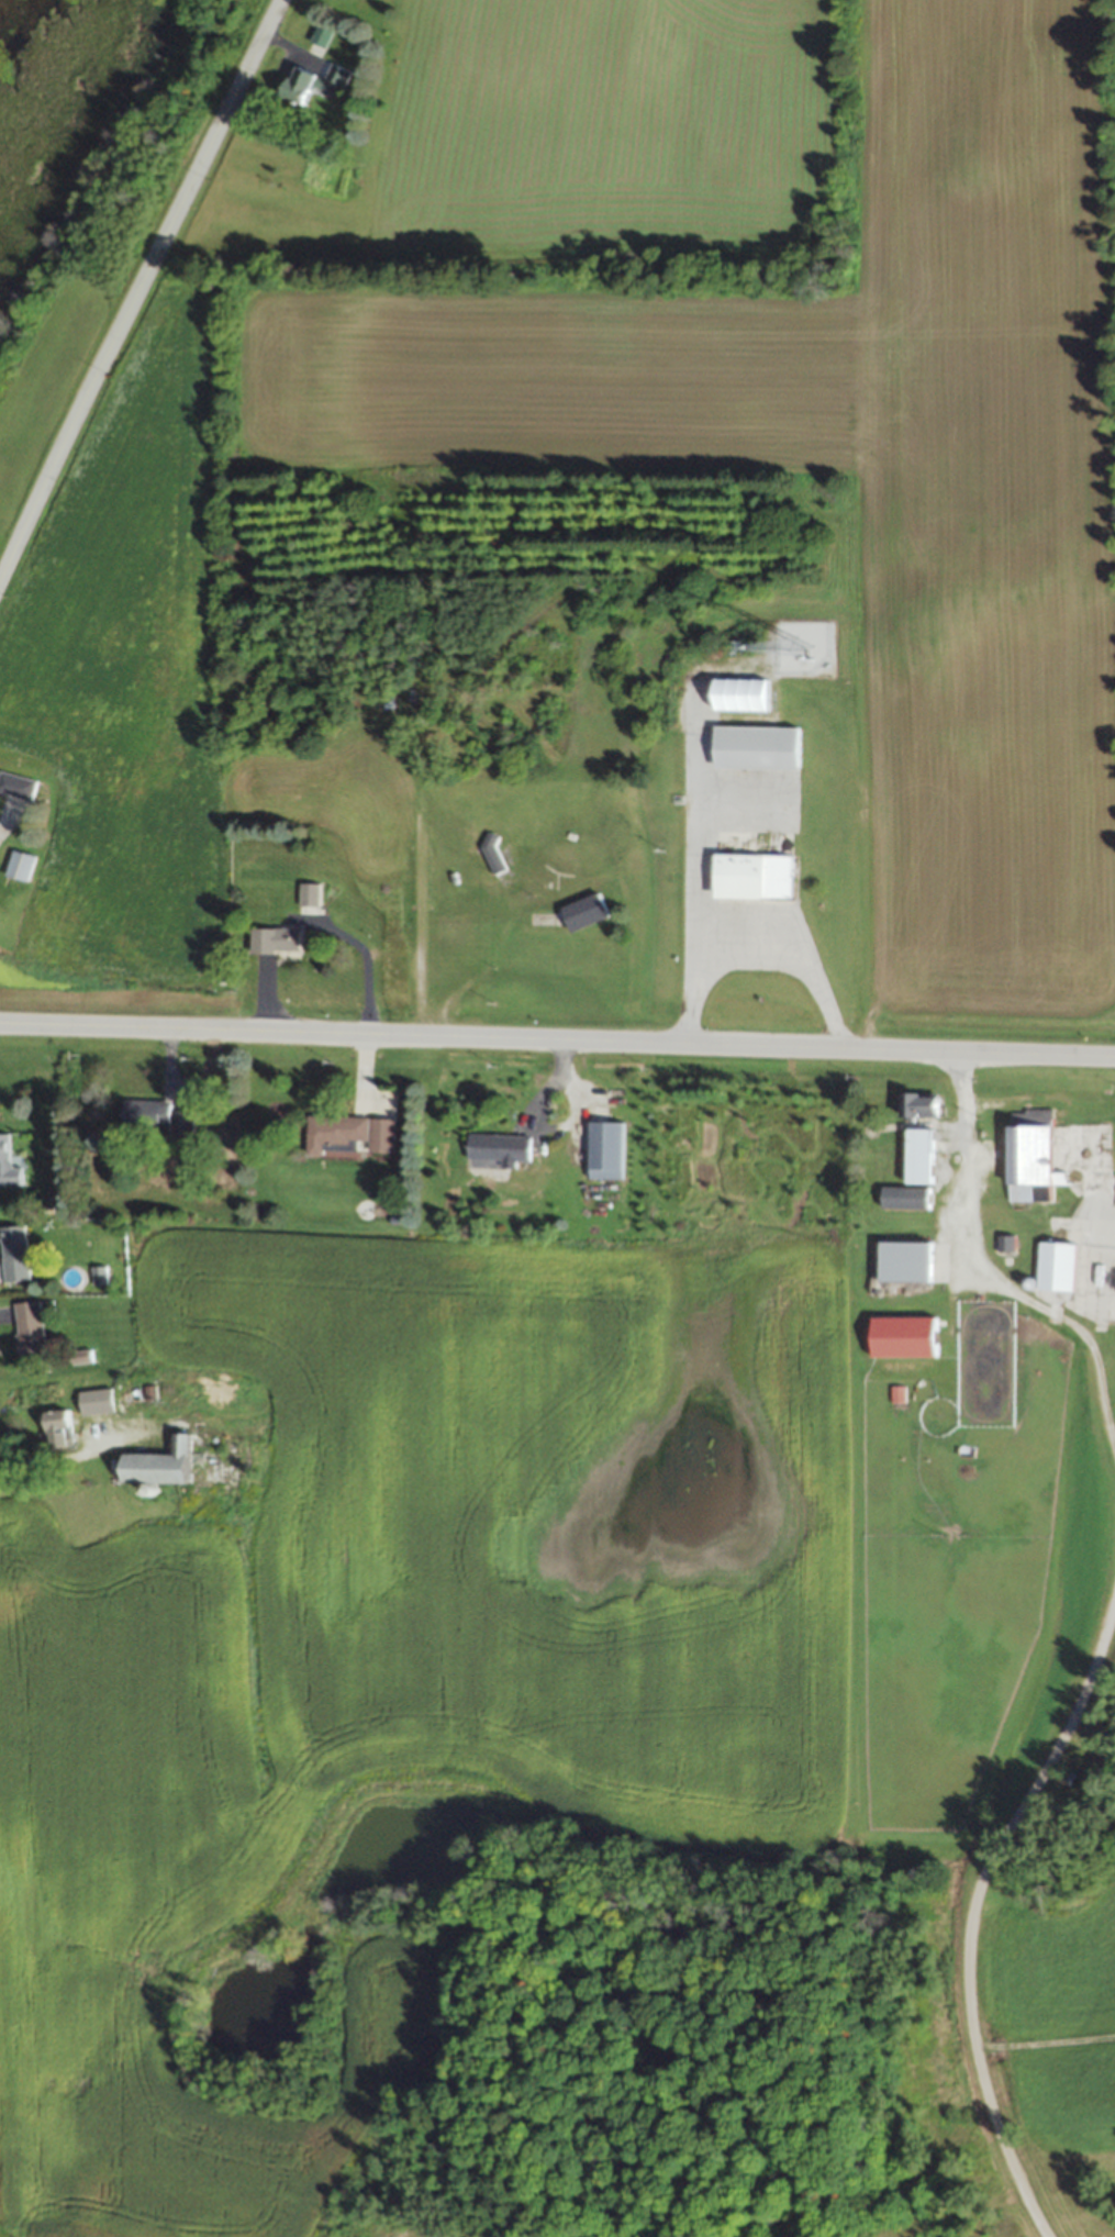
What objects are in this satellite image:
building: (311, 85)
road: (137, 285)
building: (740, 694)
building: (752, 747)
building: (15, 786)
building: (488, 855)
building: (16, 866)
building: (749, 877)
building: (304, 894)
building: (580, 913)
building: (271, 939)
road: (752, 955)
road: (260, 1000)
road: (361, 1002)
road: (557, 1038)
road: (167, 1053)
road: (557, 1058)
building: (915, 1103)
building: (142, 1114)
building: (346, 1134)
building: (1026, 1146)
building: (495, 1147)
building: (600, 1148)
building: (916, 1155)
building: (7, 1165)
building: (901, 1198)
building: (13, 1253)
building: (901, 1260)
building: (1055, 1266)
road: (981, 1271)
building: (26, 1326)
building: (902, 1336)
building: (123, 1395)
building: (215, 1407)
building: (52, 1427)
road: (43, 1459)
building: (154, 1462)
road: (968, 1910)
building: (880, 2215)

